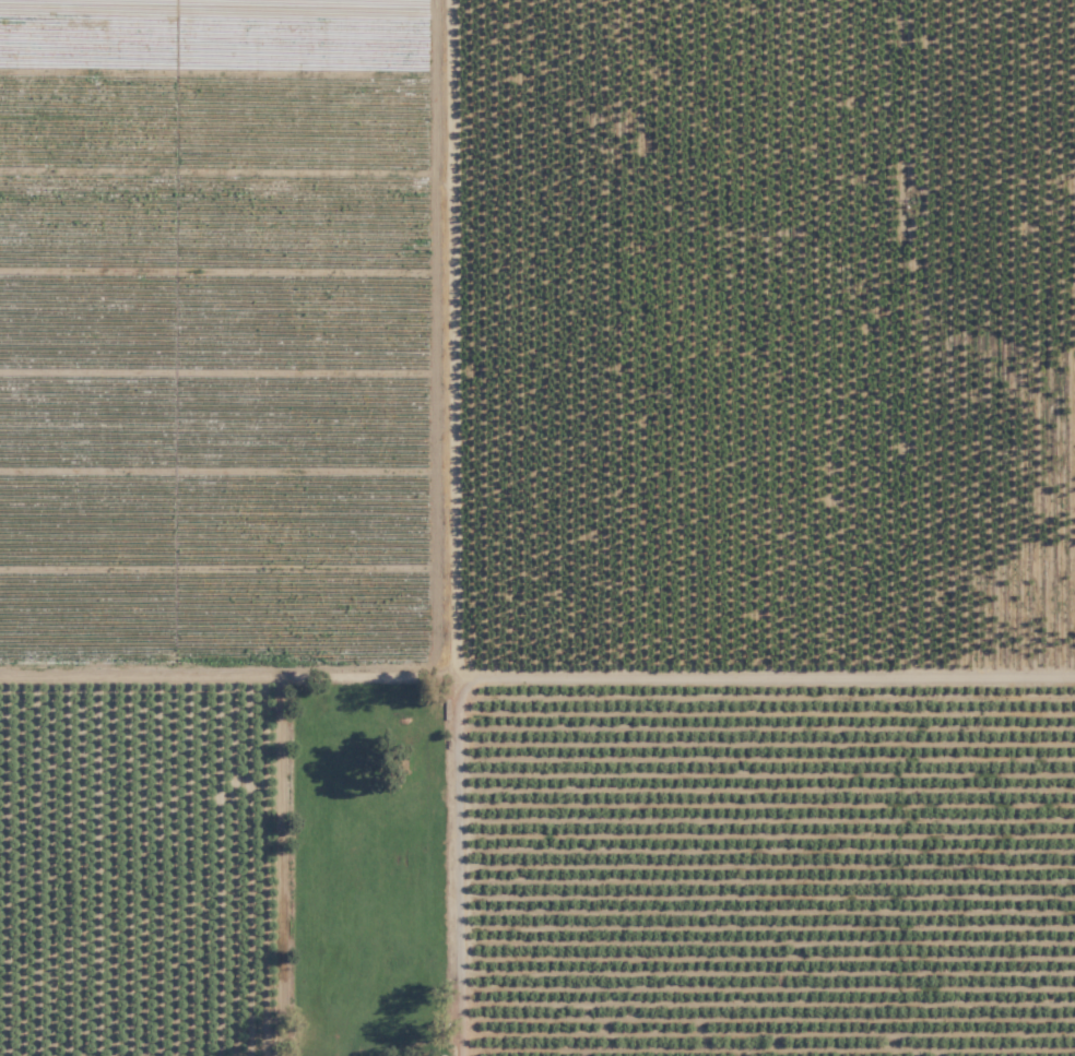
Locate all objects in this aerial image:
crop: (610, 335)
crop: (926, 337)
crop: (763, 865)

